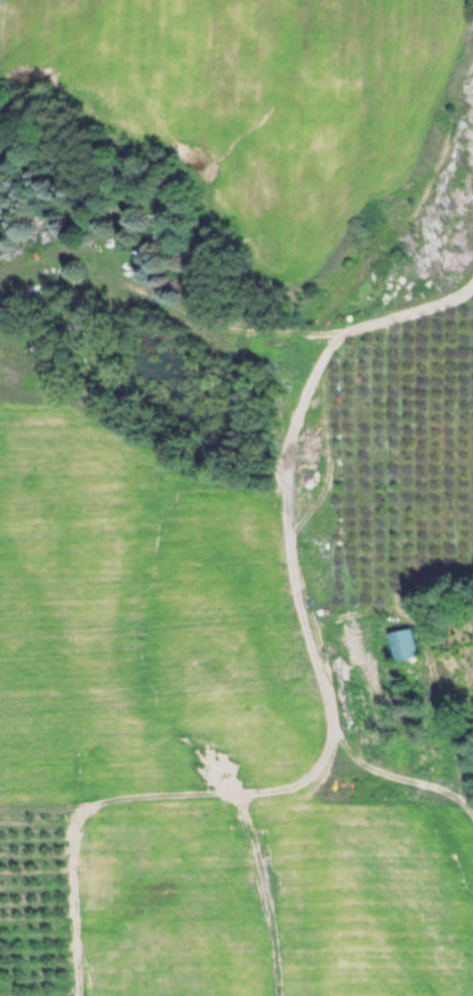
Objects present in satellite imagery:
building: (401, 644)

